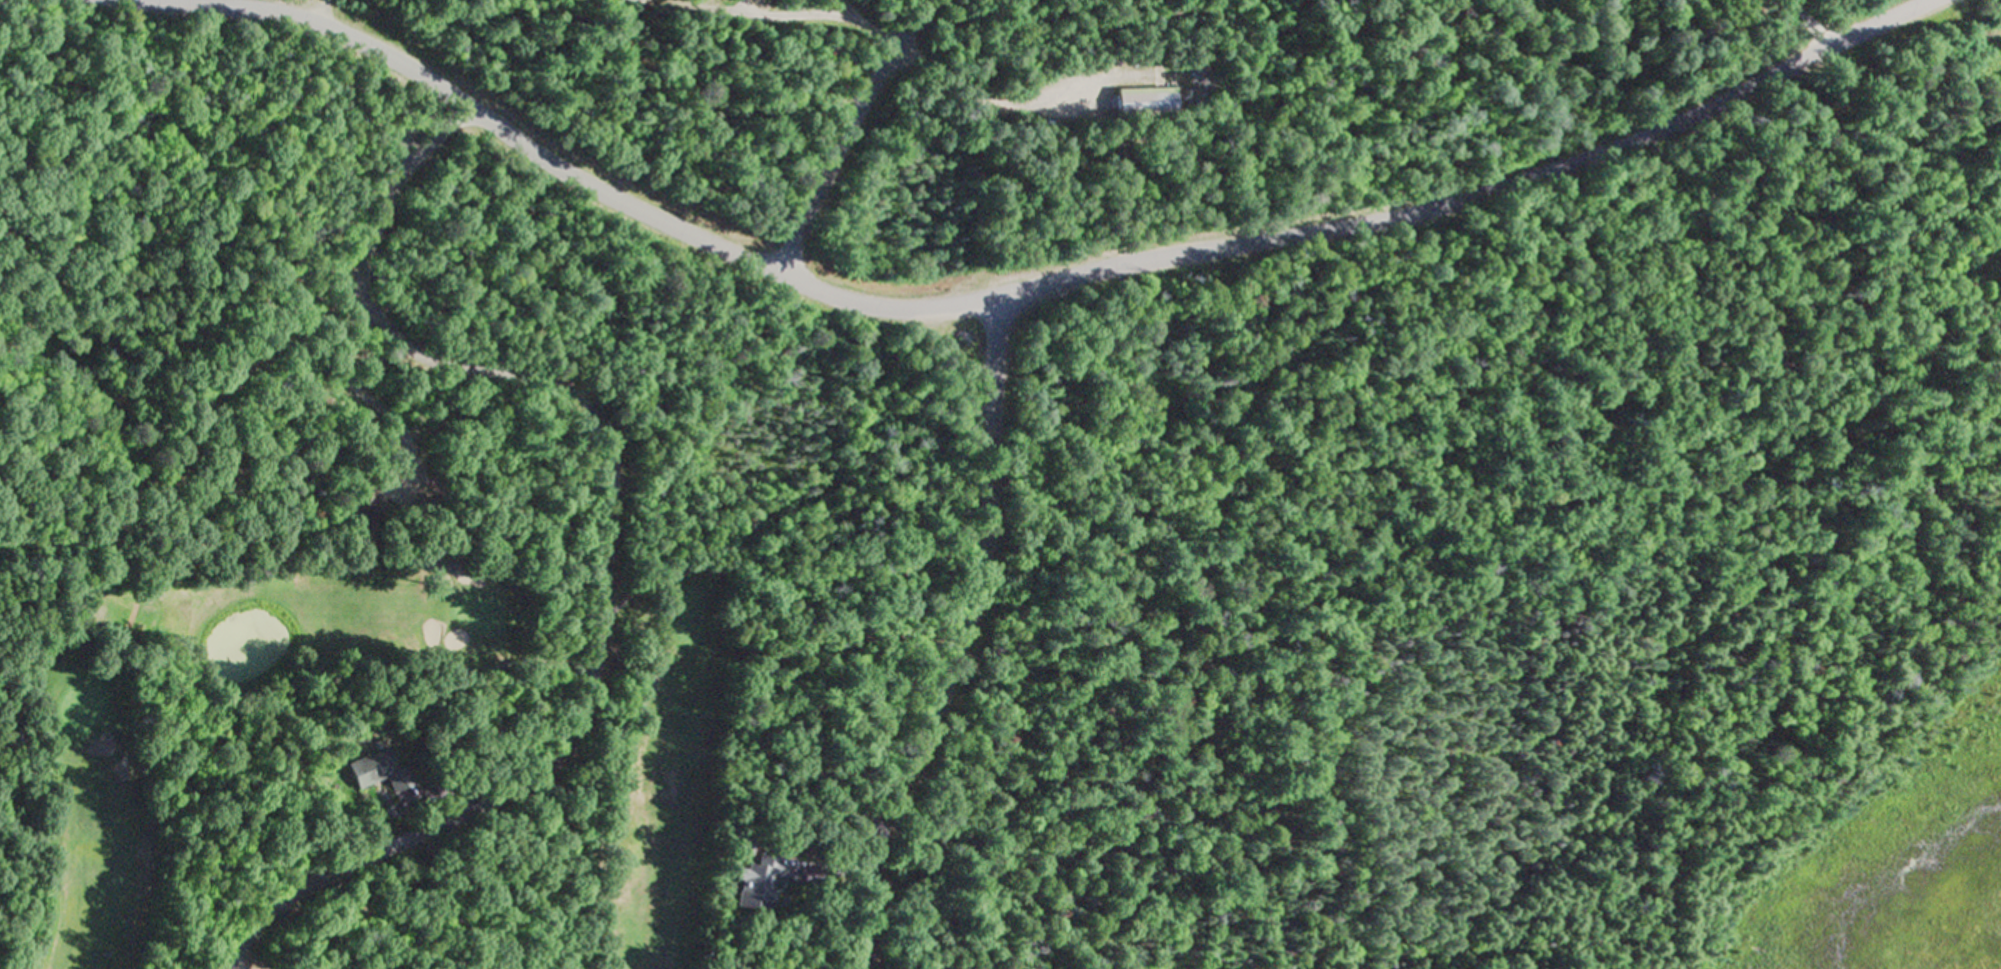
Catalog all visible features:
road: (711, 5)
road: (742, 6)
road: (322, 12)
road: (767, 13)
road: (855, 14)
quarry: (1431, 32)
building: (1144, 100)
road: (852, 136)
road: (1022, 293)
park: (915, 466)
road: (614, 544)
road: (968, 640)
building: (373, 772)
park: (438, 826)
building: (756, 884)

